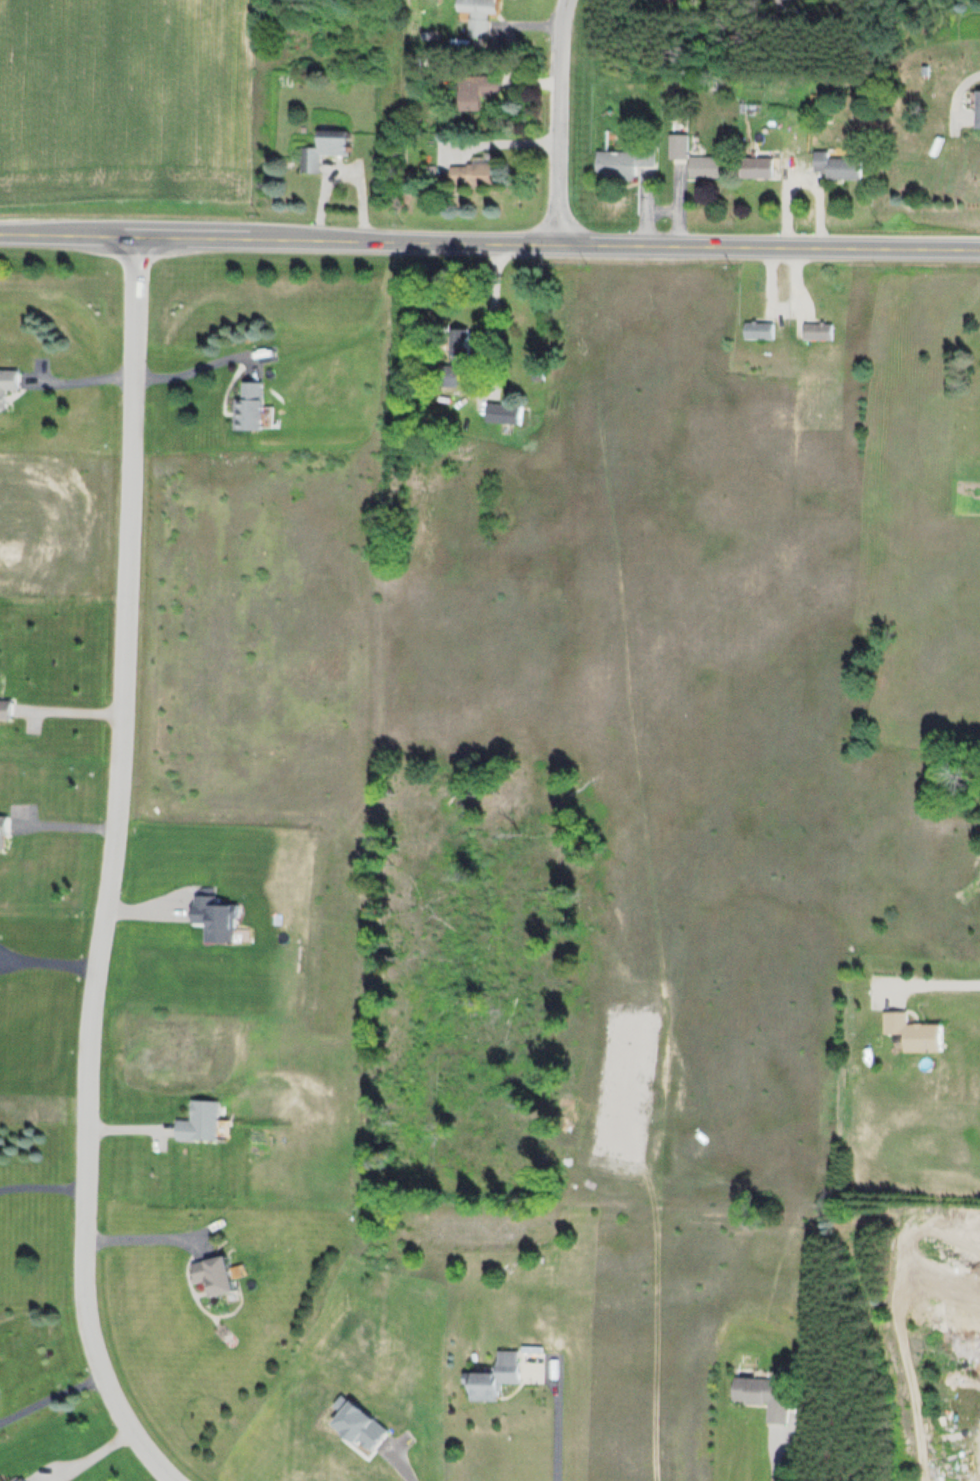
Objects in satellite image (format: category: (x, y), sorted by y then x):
building: (775, 3)
building: (475, 15)
building: (474, 90)
building: (975, 108)
road: (559, 122)
building: (676, 145)
building: (323, 147)
building: (623, 161)
building: (703, 165)
building: (753, 165)
building: (835, 165)
building: (472, 171)
road: (489, 243)
building: (756, 329)
building: (816, 330)
building: (7, 380)
building: (245, 404)
building: (501, 412)
building: (4, 709)
road: (107, 870)
road: (933, 984)
building: (911, 1031)
building: (197, 1121)
building: (211, 1274)
quarry: (940, 1347)
building: (493, 1376)
building: (760, 1394)

